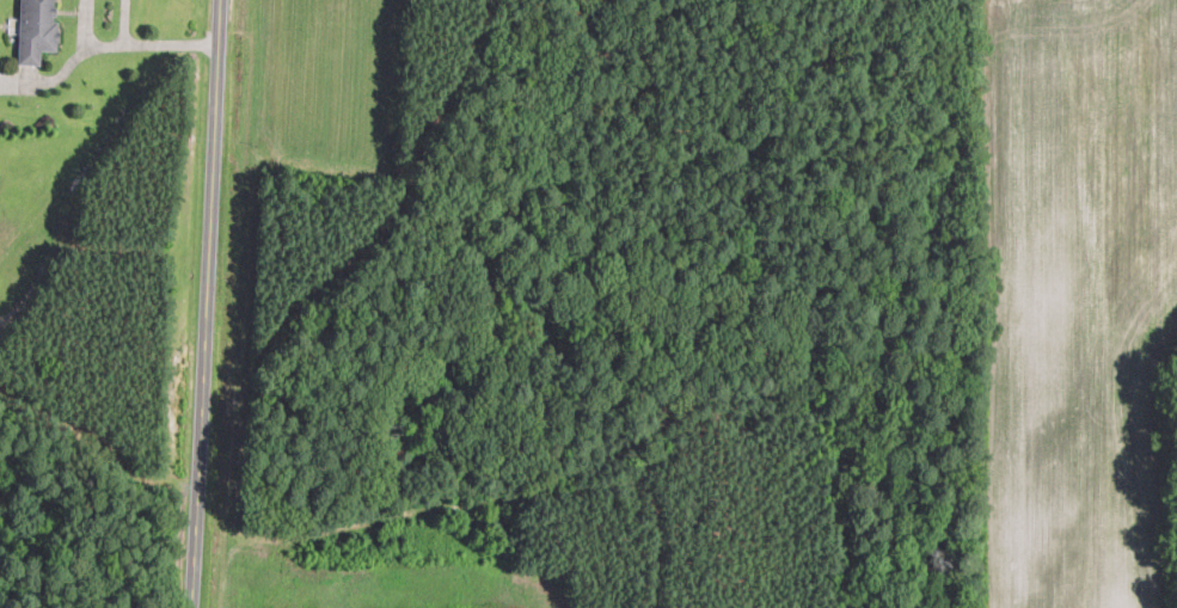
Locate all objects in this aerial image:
road: (124, 23)
building: (35, 29)
road: (85, 41)
road: (171, 44)
road: (206, 303)

